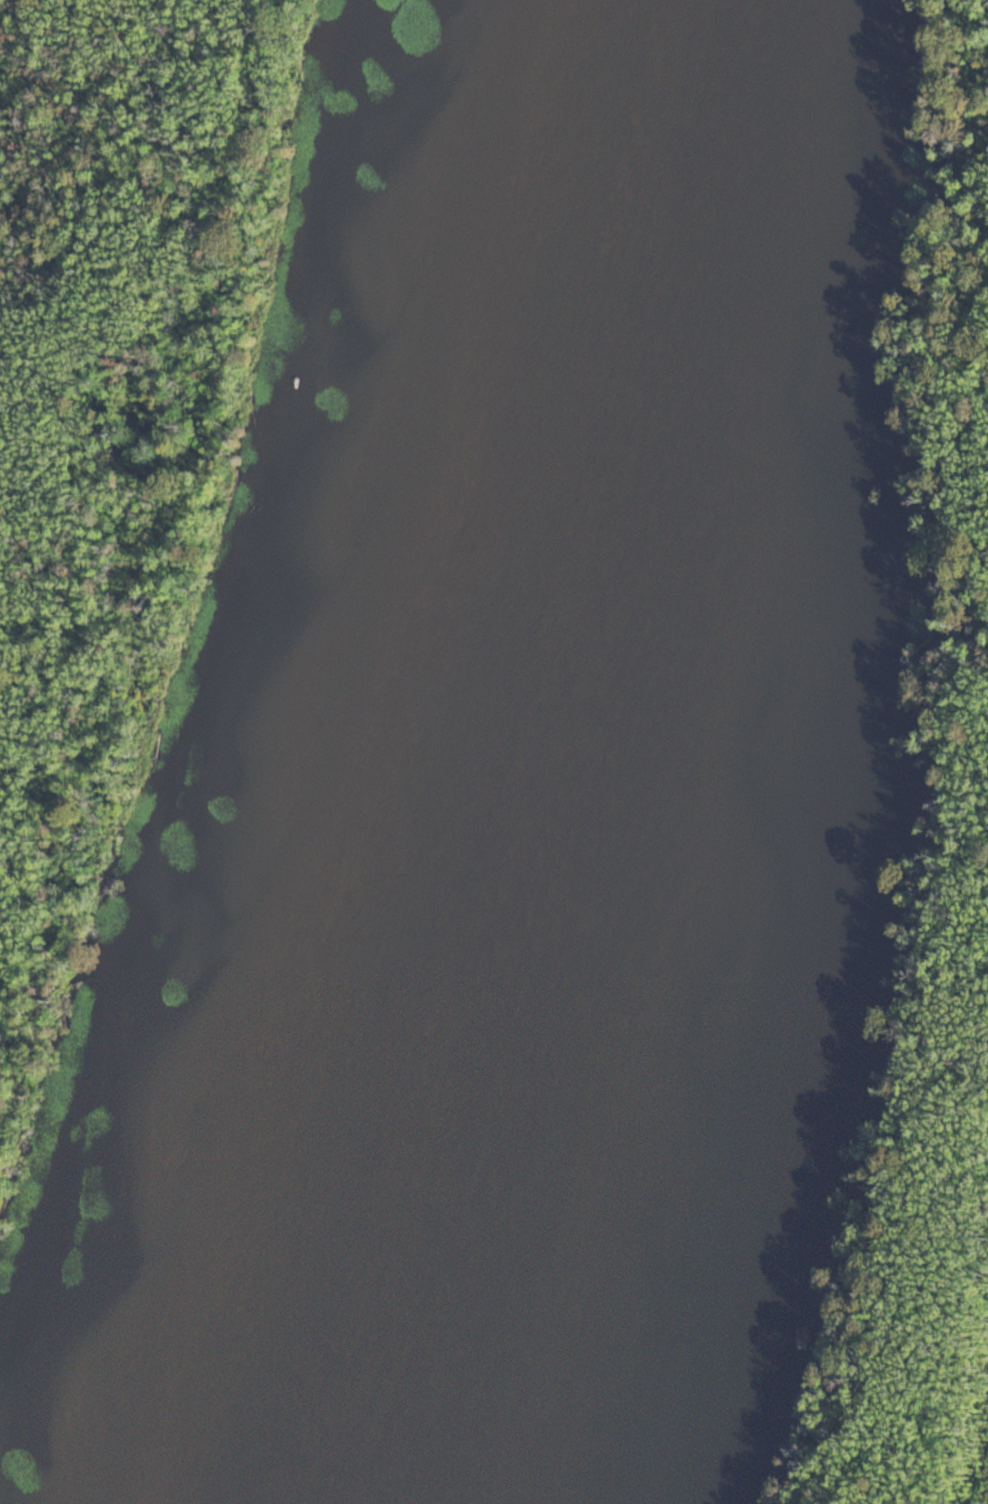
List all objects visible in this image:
river: (543, 763)

